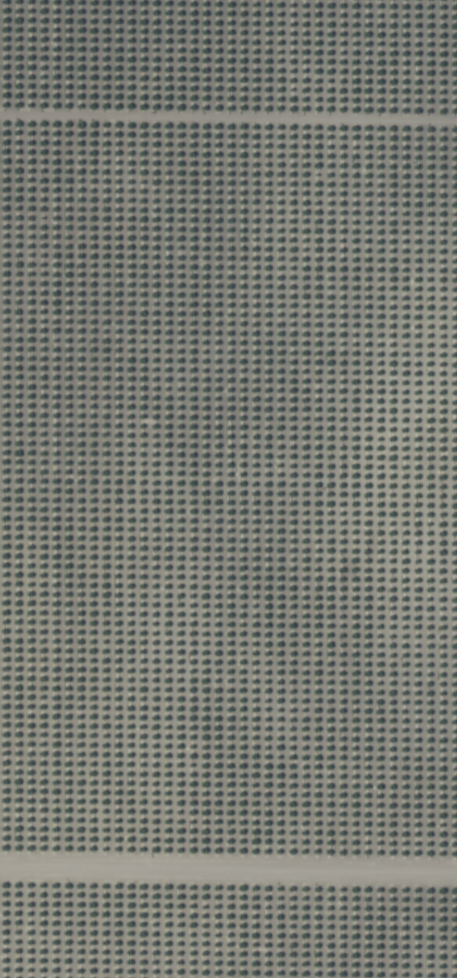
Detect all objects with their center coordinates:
crop: (228, 489)

